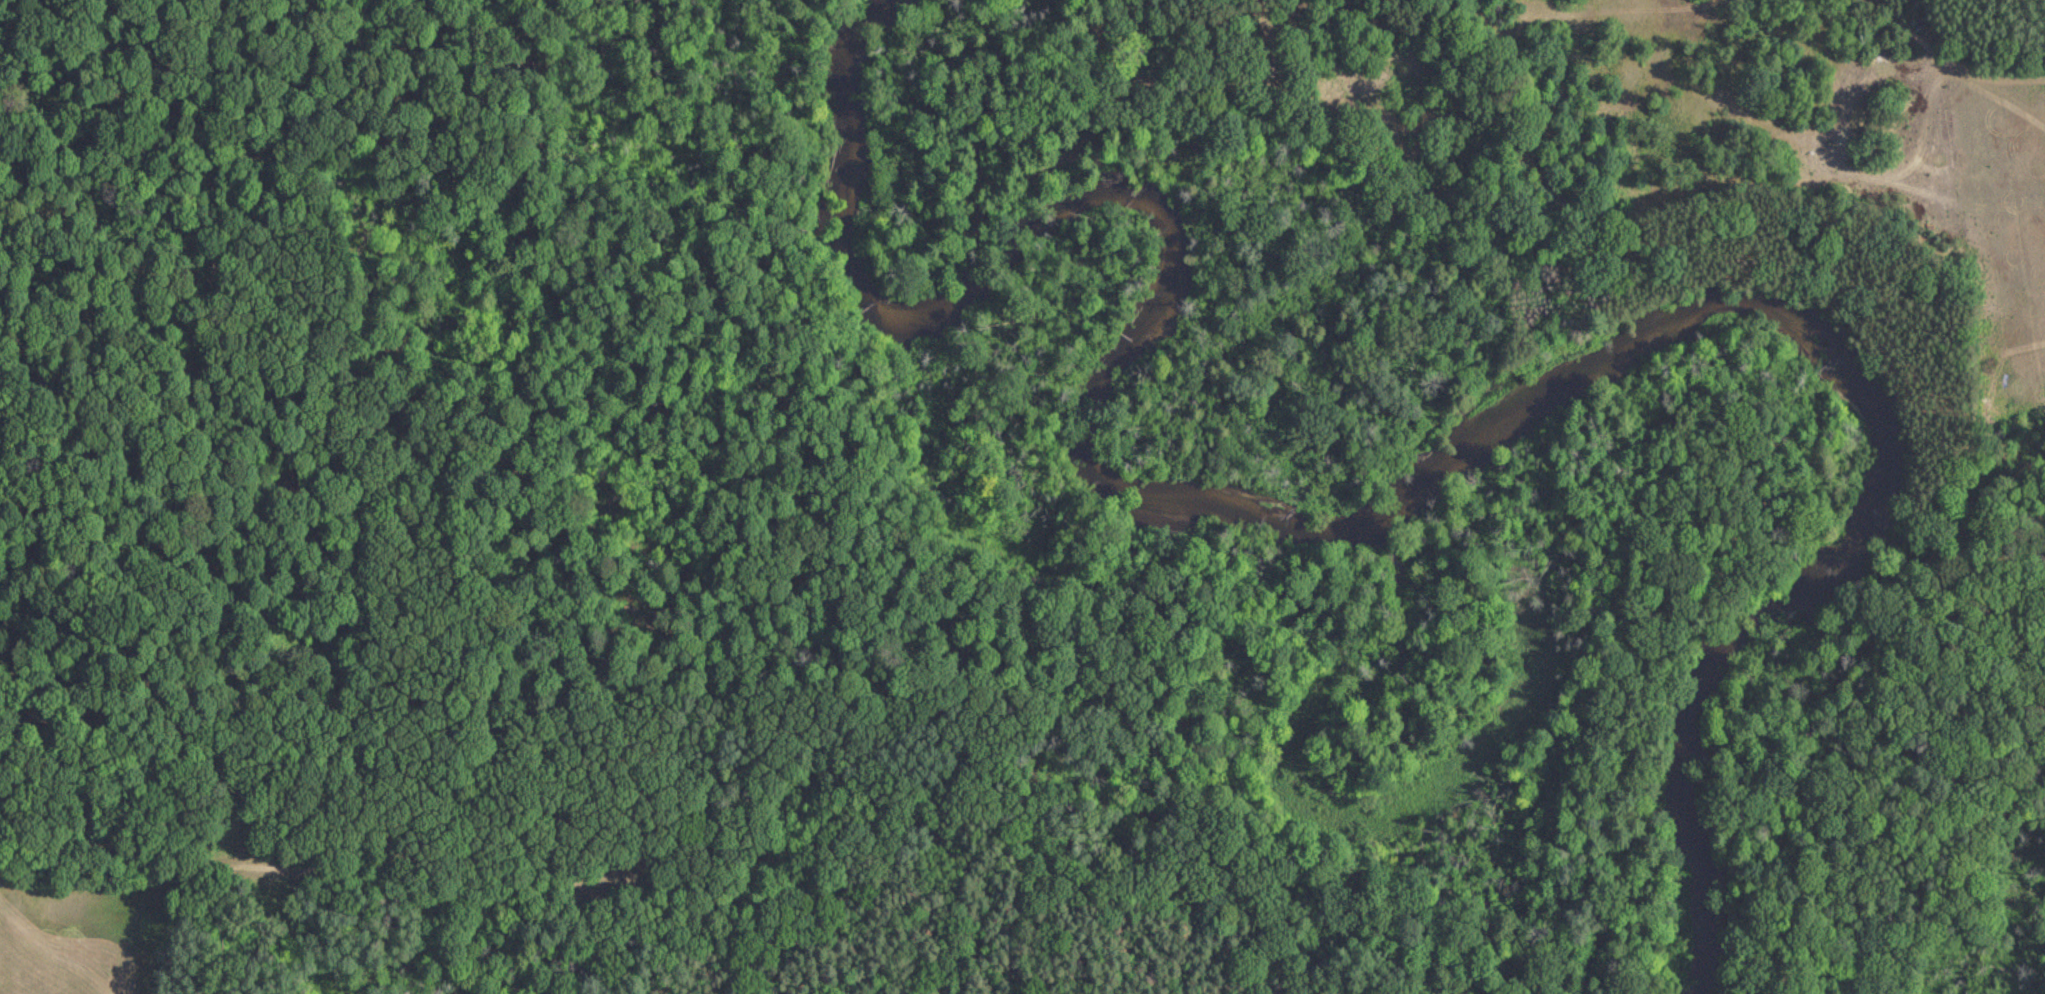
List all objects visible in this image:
river: (1380, 516)
crop: (78, 949)

